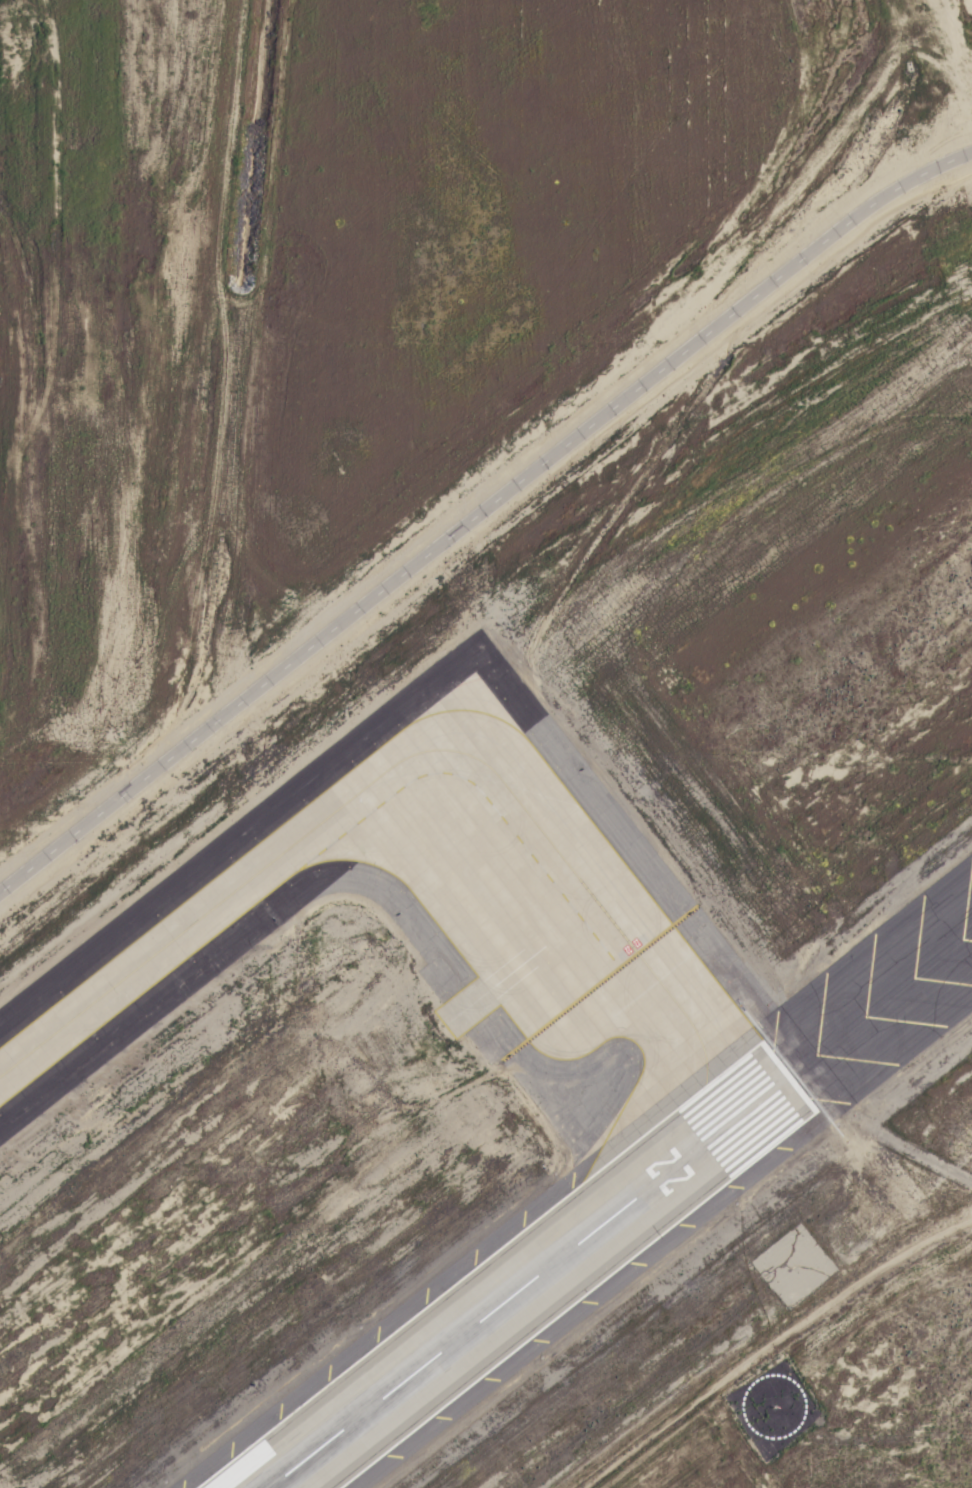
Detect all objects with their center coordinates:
road: (479, 510)
airport taxiway: (424, 750)
airport runway: (526, 1283)

